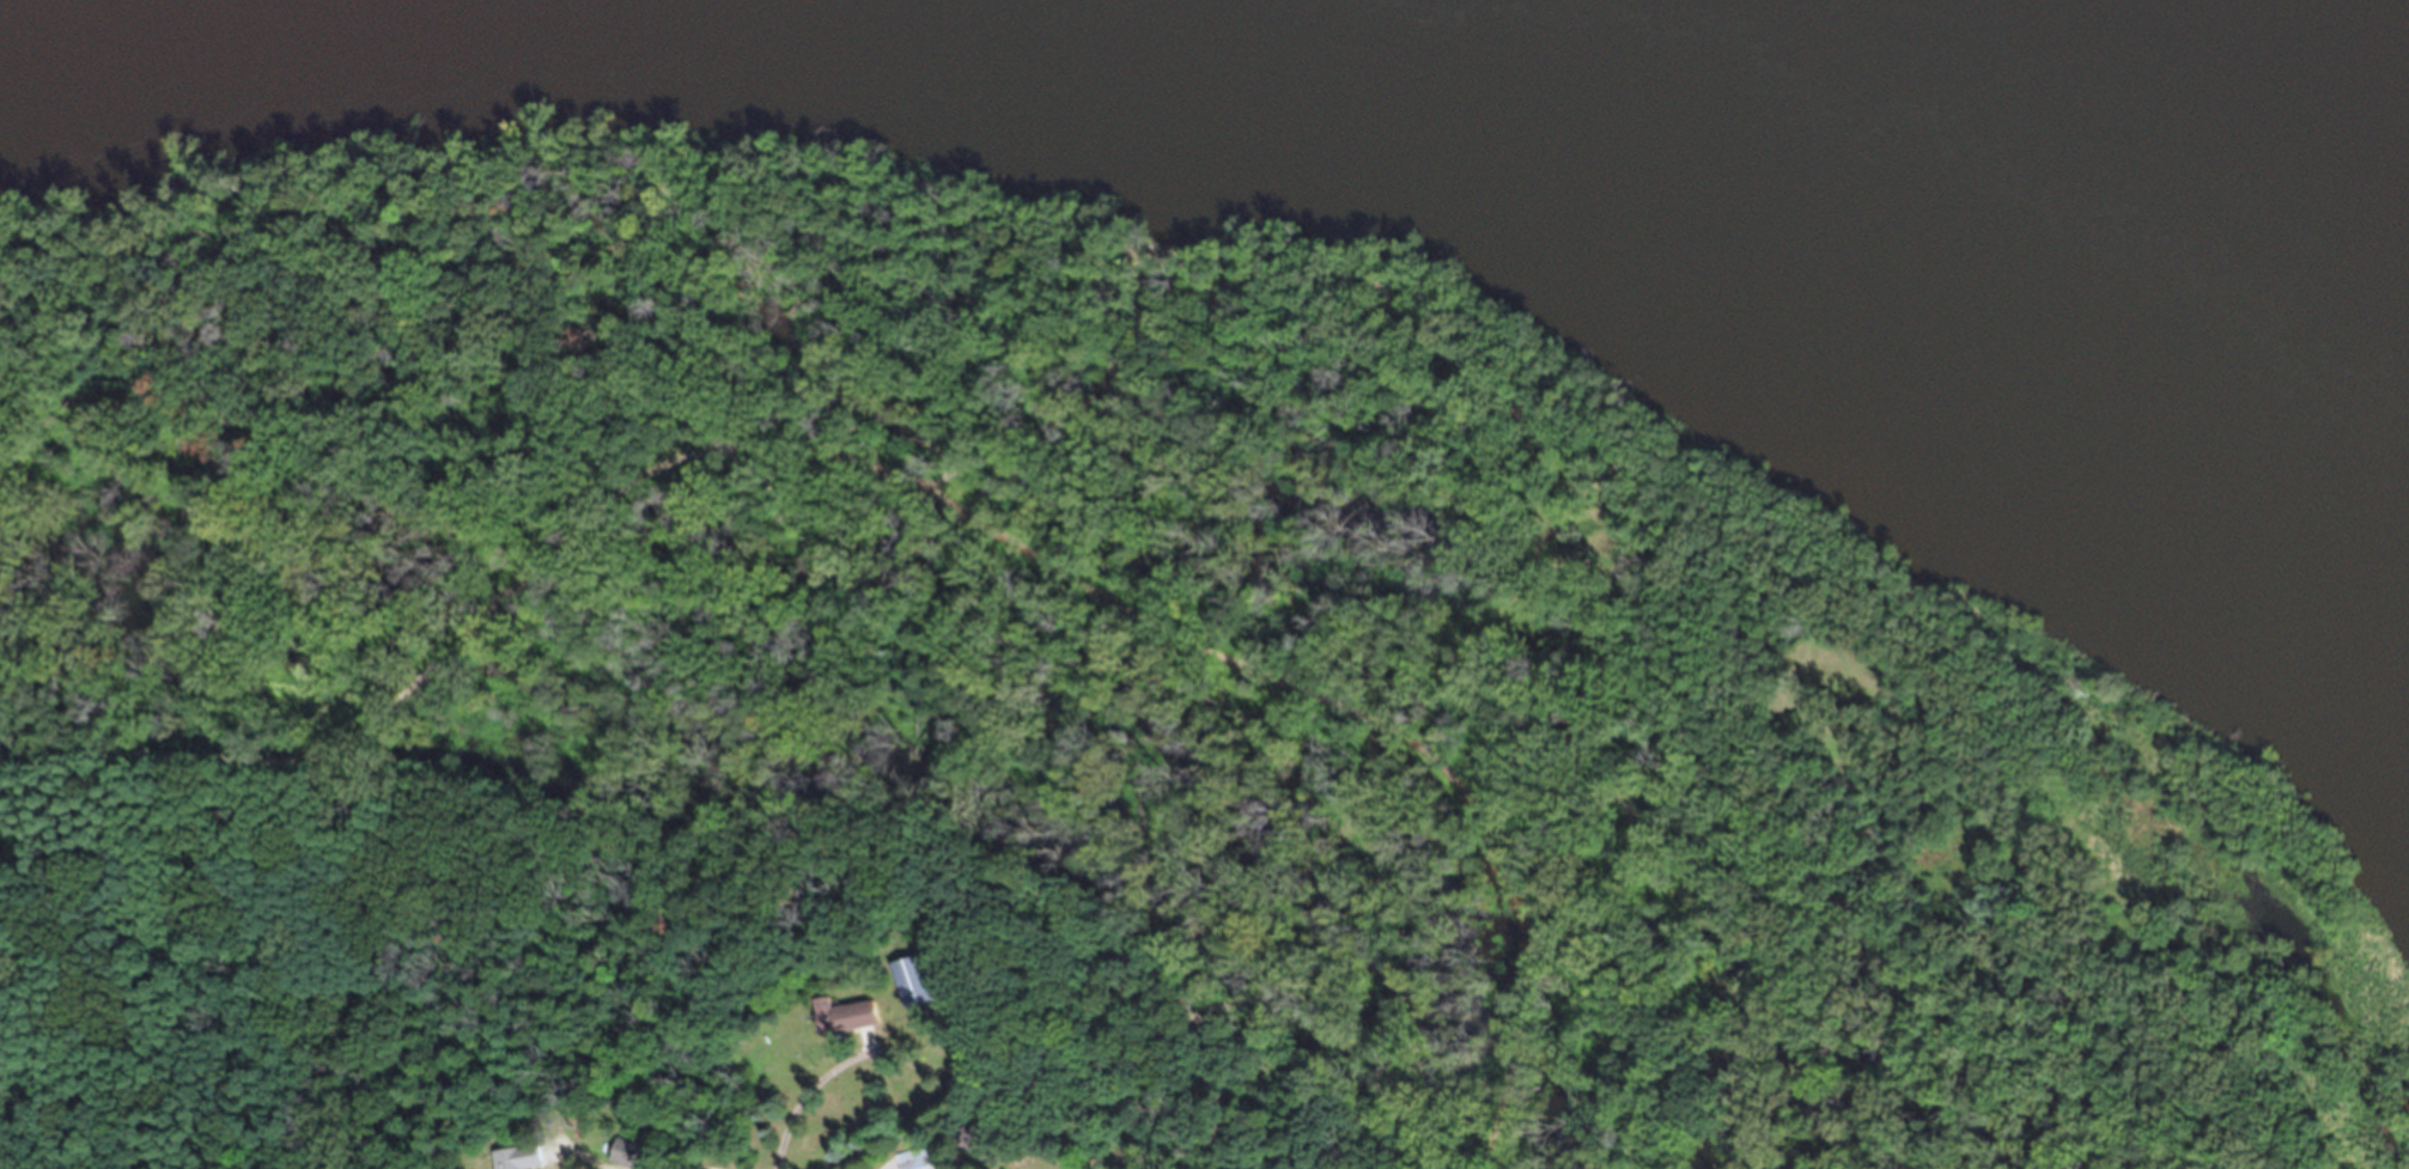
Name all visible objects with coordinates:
river: (1248, 47)
road: (910, 485)
building: (918, 990)
building: (842, 1024)
road: (797, 1091)
road: (576, 1155)
building: (516, 1162)
building: (917, 1162)
road: (711, 1167)

